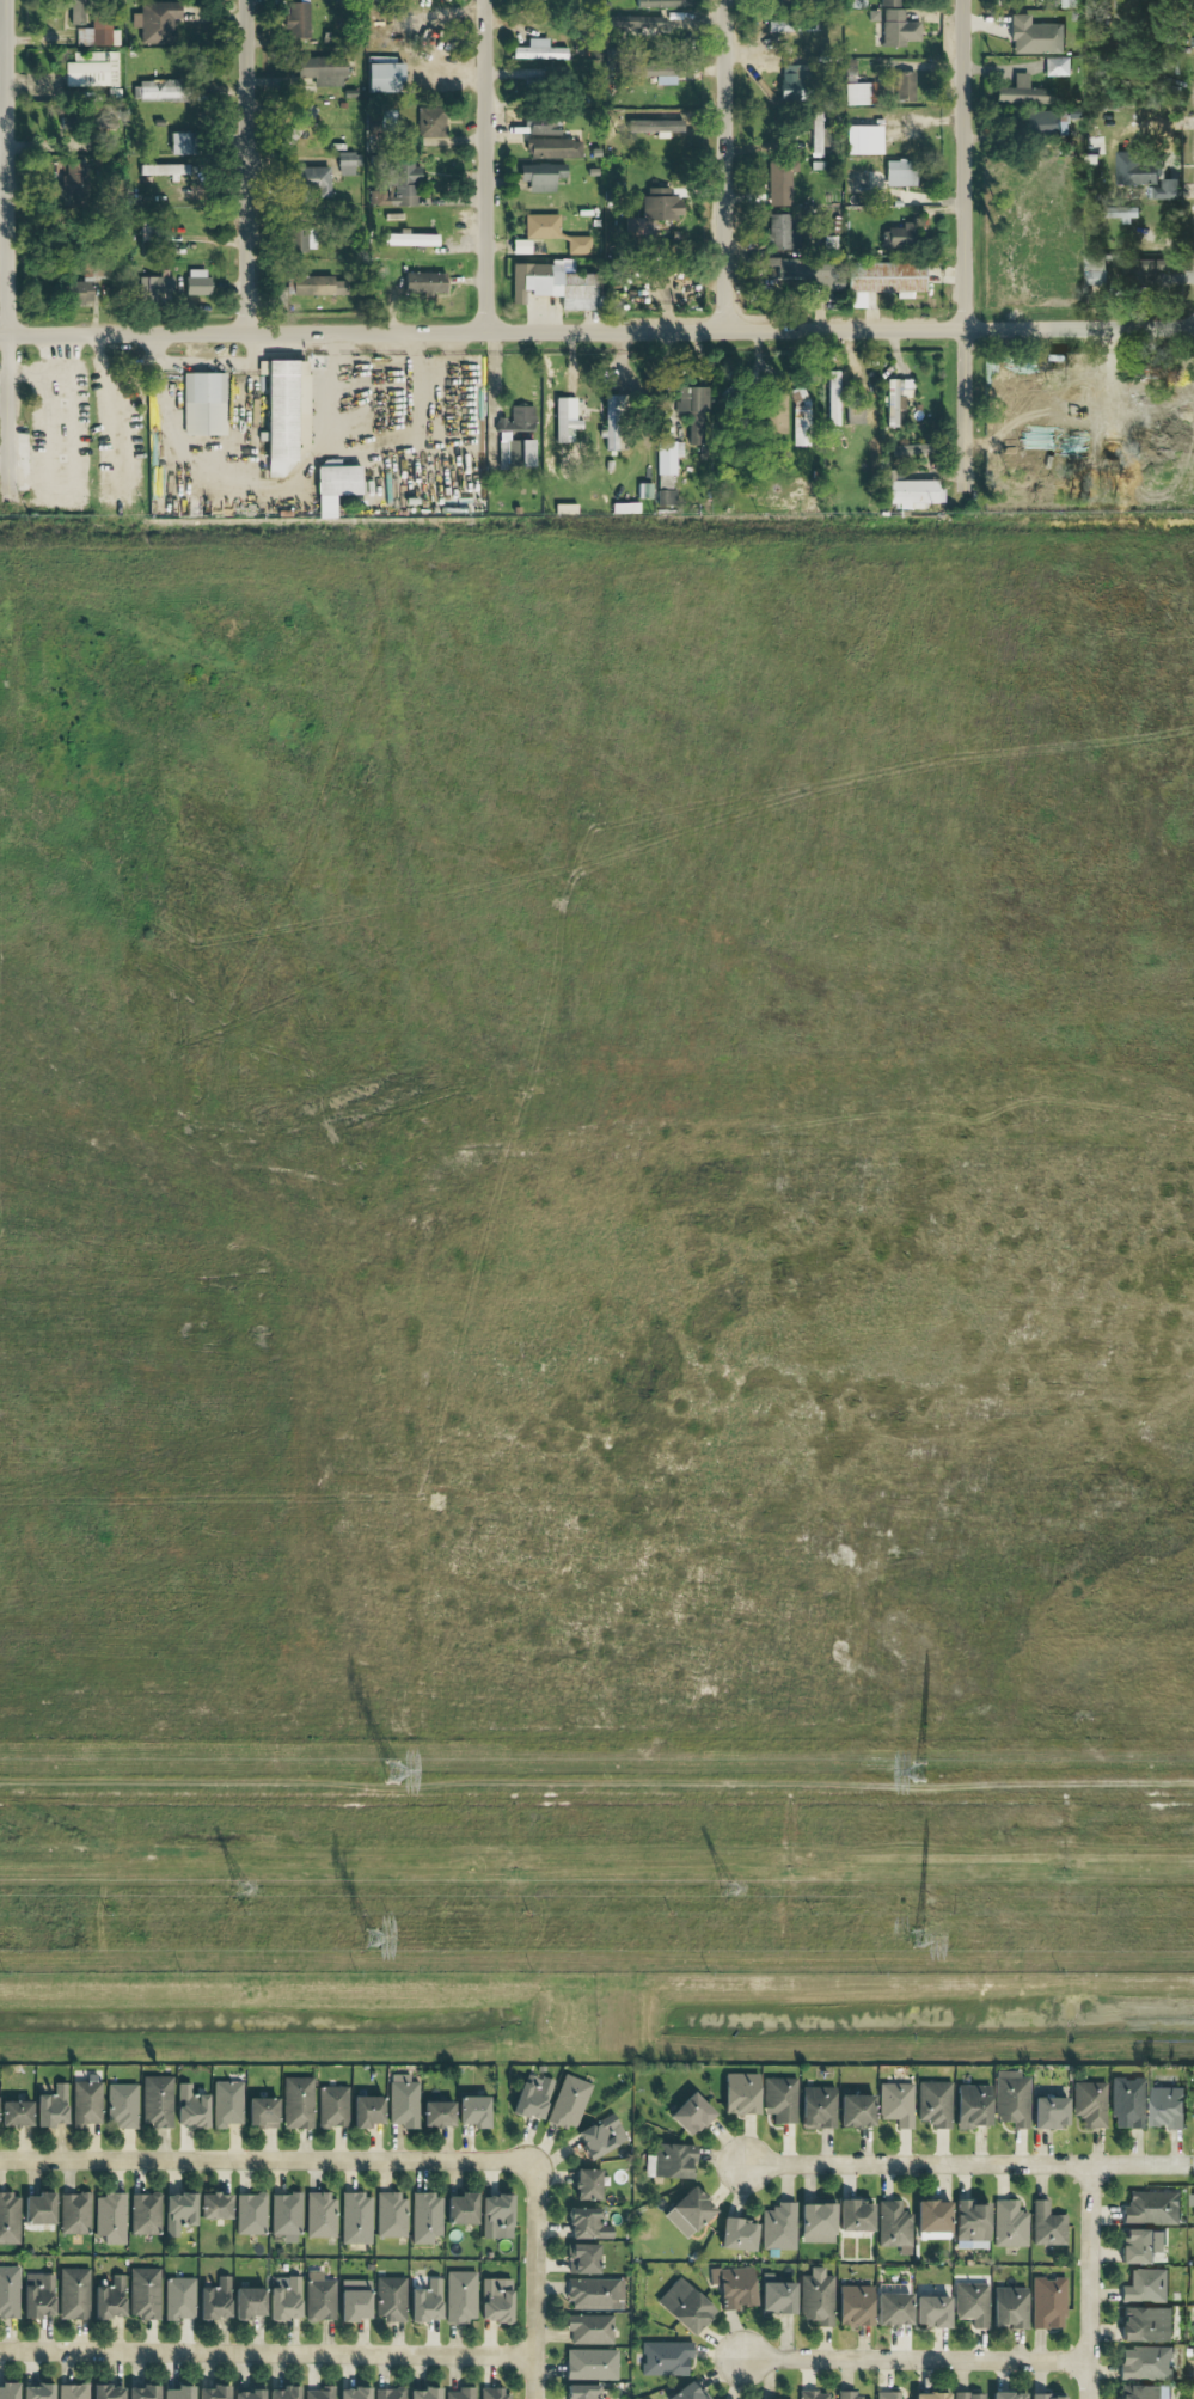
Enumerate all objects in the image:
building: (662, 4)
building: (888, 4)
building: (78, 12)
building: (296, 19)
building: (154, 22)
building: (622, 24)
building: (650, 25)
building: (898, 29)
building: (98, 36)
building: (1034, 37)
road: (4, 39)
road: (437, 42)
building: (538, 51)
building: (1055, 67)
building: (92, 71)
building: (319, 72)
building: (655, 73)
building: (382, 75)
building: (791, 82)
building: (905, 86)
building: (158, 90)
building: (1022, 93)
building: (859, 94)
building: (430, 122)
building: (1041, 122)
building: (540, 124)
building: (665, 126)
building: (818, 136)
building: (863, 140)
building: (179, 145)
building: (553, 149)
building: (347, 164)
road: (486, 165)
road: (725, 165)
road: (247, 166)
building: (899, 173)
building: (1143, 176)
building: (540, 177)
building: (311, 180)
building: (778, 183)
building: (73, 185)
building: (397, 188)
building: (653, 213)
building: (1123, 213)
building: (556, 232)
building: (780, 234)
building: (896, 237)
building: (410, 239)
road: (965, 246)
road: (7, 247)
building: (783, 268)
building: (1151, 269)
building: (1094, 273)
building: (825, 277)
building: (884, 277)
building: (196, 282)
building: (423, 283)
building: (84, 284)
building: (557, 284)
building: (153, 286)
building: (316, 287)
road: (596, 331)
building: (893, 400)
building: (203, 404)
building: (833, 404)
building: (693, 409)
building: (283, 410)
building: (855, 415)
building: (776, 416)
building: (800, 418)
building: (519, 420)
building: (567, 420)
building: (614, 421)
building: (912, 451)
building: (514, 453)
building: (528, 453)
building: (503, 454)
building: (669, 460)
building: (333, 488)
building: (913, 494)
building: (668, 496)
road: (1162, 783)
road: (929, 1083)
road: (1180, 1094)
road: (1167, 1263)
road: (1181, 1510)
road: (1182, 1579)
road: (1182, 1617)
road: (1170, 1645)
road: (1189, 1663)
road: (1146, 1710)
power tower: (393, 1773)
power tower: (920, 1773)
power tower: (734, 1890)
power tower: (246, 1891)
power tower: (372, 1941)
power tower: (921, 1942)
building: (740, 2093)
building: (1011, 2098)
building: (779, 2099)
building: (155, 2101)
building: (296, 2101)
building: (568, 2101)
building: (86, 2103)
building: (226, 2103)
building: (1090, 2103)
building: (1127, 2103)
building: (402, 2104)
building: (895, 2104)
building: (933, 2104)
building: (121, 2105)
building: (970, 2105)
building: (50, 2106)
building: (189, 2106)
building: (331, 2106)
building: (816, 2106)
building: (1165, 2107)
building: (855, 2109)
building: (366, 2110)
building: (261, 2111)
building: (472, 2111)
building: (1049, 2111)
building: (14, 2112)
building: (436, 2113)
building: (690, 2113)
building: (600, 2136)
road: (267, 2160)
building: (669, 2161)
road: (969, 2165)
building: (586, 2184)
building: (1190, 2199)
building: (213, 2205)
building: (38, 2208)
building: (460, 2208)
building: (1151, 2208)
building: (177, 2211)
building: (687, 2211)
building: (73, 2213)
building: (143, 2214)
building: (250, 2214)
building: (855, 2214)
building: (284, 2215)
building: (320, 2215)
building: (390, 2215)
building: (495, 2216)
building: (8, 2217)
building: (109, 2217)
building: (355, 2217)
building: (424, 2217)
building: (932, 2220)
building: (815, 2222)
building: (970, 2222)
building: (587, 2223)
building: (1009, 2223)
building: (1047, 2224)
building: (778, 2226)
building: (893, 2226)
building: (736, 2234)
building: (1137, 2245)
building: (581, 2258)
road: (537, 2282)
road: (1090, 2282)
building: (734, 2285)
building: (1145, 2285)
building: (8, 2291)
building: (143, 2293)
building: (37, 2294)
building: (73, 2294)
building: (594, 2294)
building: (776, 2295)
building: (319, 2296)
building: (460, 2296)
building: (816, 2296)
building: (178, 2297)
building: (108, 2299)
building: (214, 2299)
building: (354, 2299)
building: (284, 2300)
building: (390, 2300)
building: (494, 2300)
building: (425, 2301)
building: (247, 2302)
building: (1047, 2302)
building: (970, 2303)
building: (684, 2306)
building: (853, 2306)
building: (1009, 2307)
building: (892, 2308)
building: (931, 2311)
building: (1145, 2324)
building: (589, 2328)
road: (268, 2352)
building: (665, 2358)
road: (916, 2361)
building: (1145, 2363)
building: (590, 2364)
building: (1193, 2368)
building: (7, 2389)
building: (36, 2391)
building: (72, 2391)
building: (581, 2391)
building: (105, 2392)
building: (142, 2392)
building: (178, 2392)
building: (213, 2392)
building: (284, 2392)
building: (685, 2392)
building: (1143, 2392)
building: (246, 2393)
building: (319, 2393)
building: (353, 2393)
building: (424, 2393)
building: (460, 2393)
building: (494, 2393)
building: (815, 2394)
building: (847, 2394)
building: (1008, 2394)
building: (887, 2395)
building: (930, 2395)
building: (968, 2395)
building: (1046, 2395)

